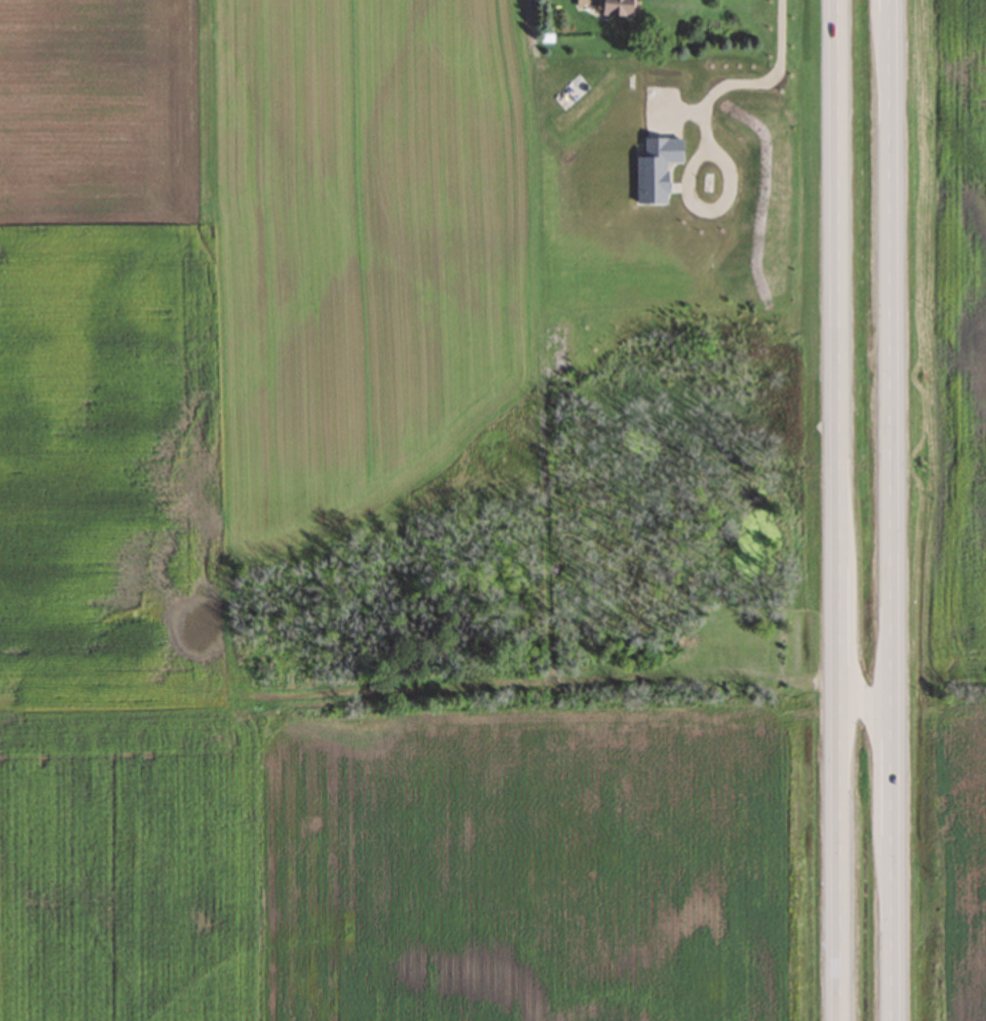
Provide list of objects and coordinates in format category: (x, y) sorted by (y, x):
building: (603, 6)
road: (783, 109)
road: (836, 510)
road: (890, 510)

